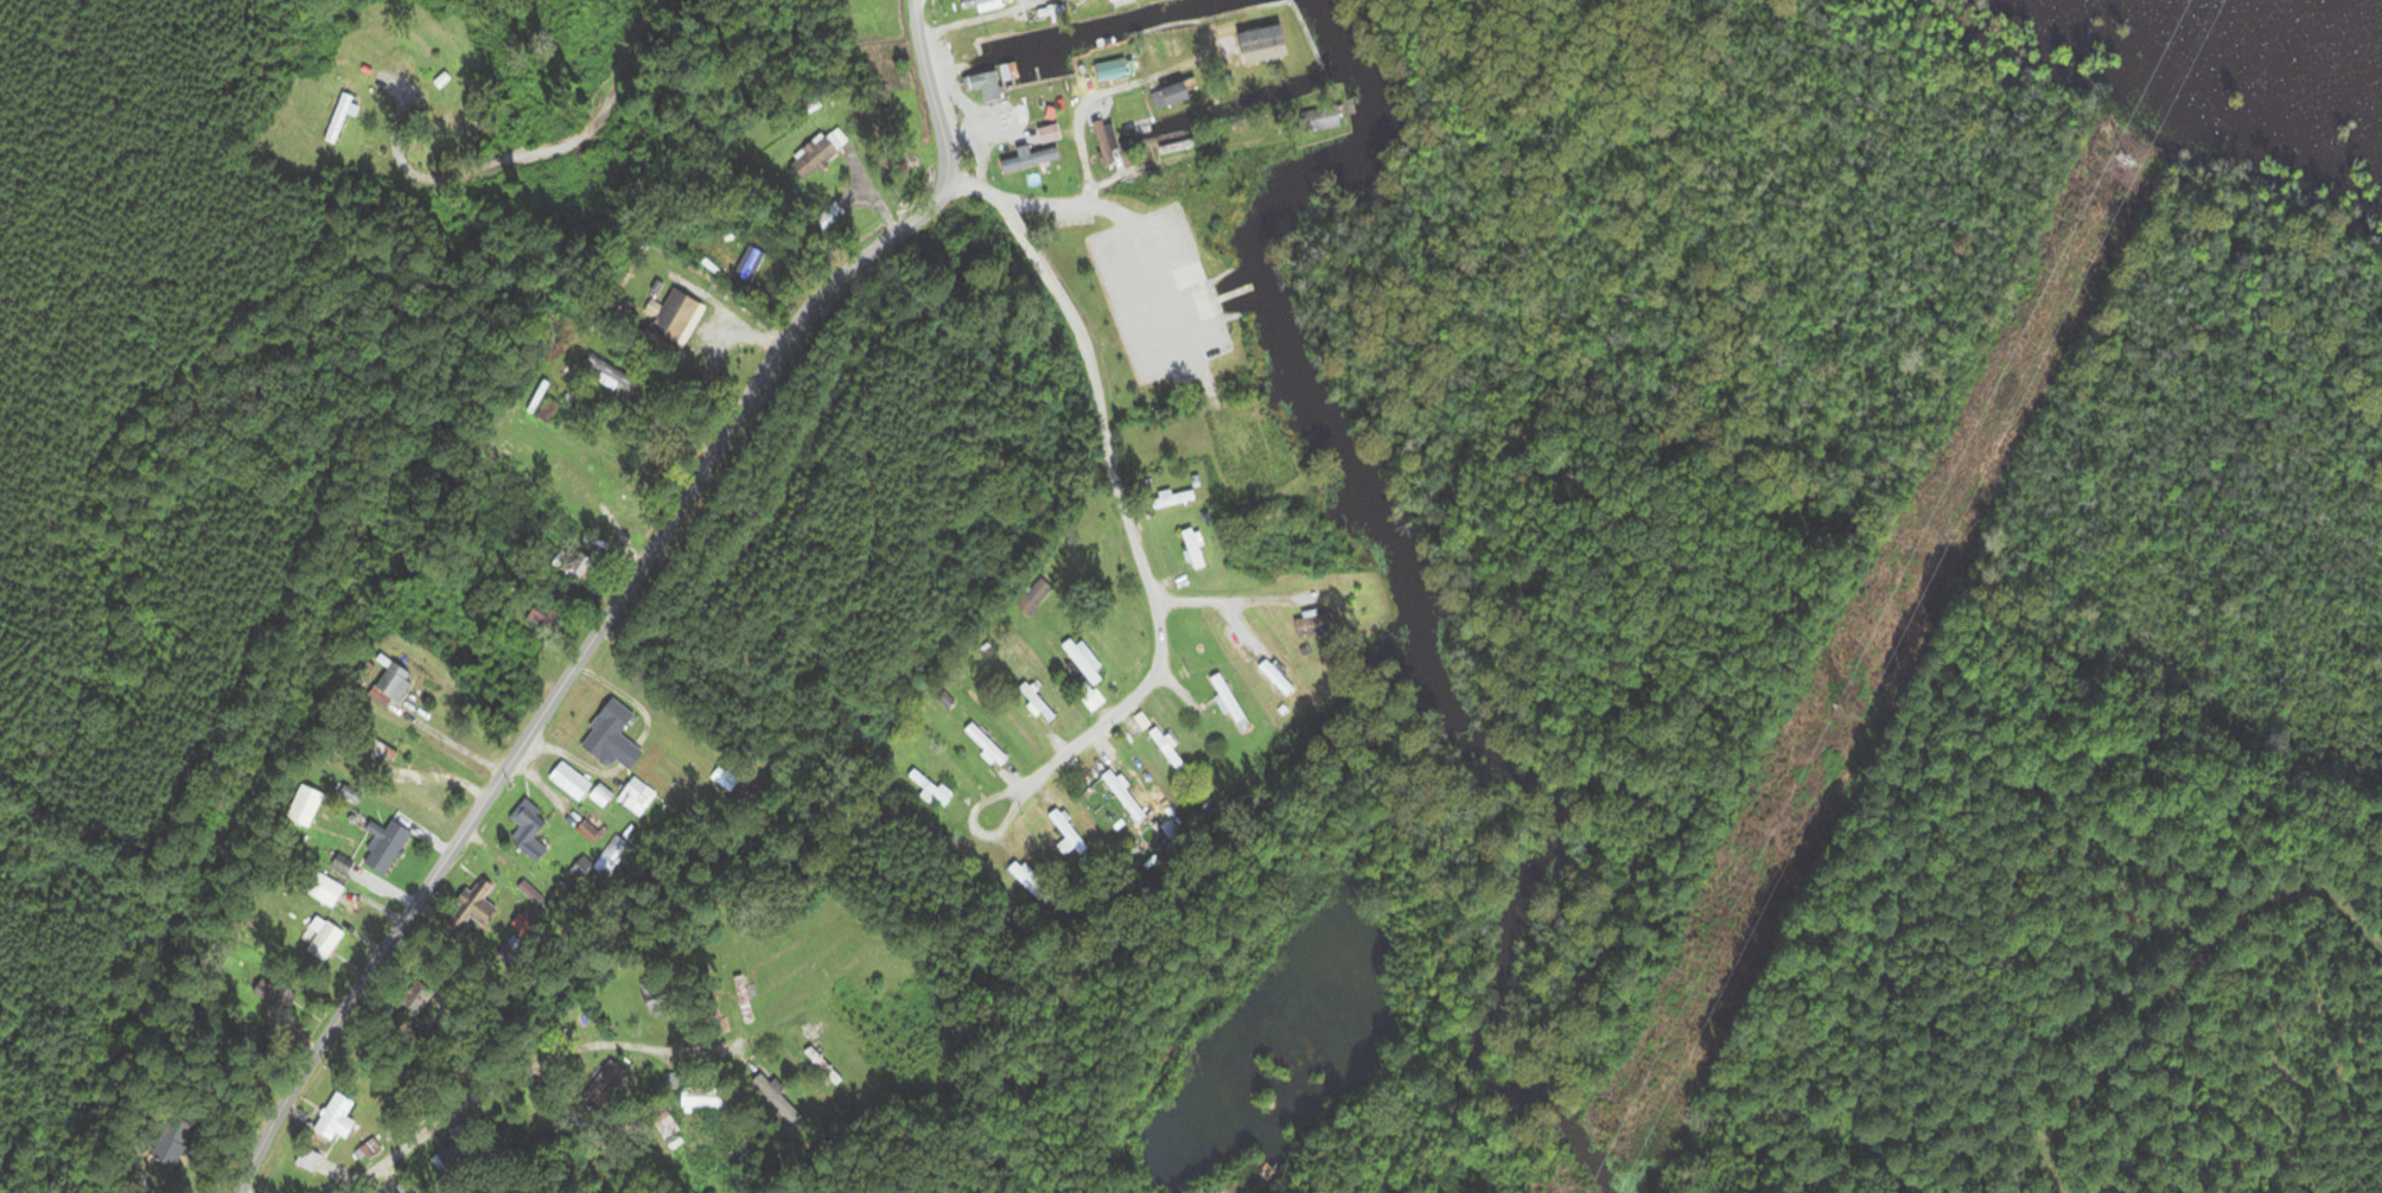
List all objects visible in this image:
building: (1126, 2)
building: (986, 4)
road: (983, 17)
building: (1265, 45)
building: (405, 50)
road: (1095, 96)
building: (1174, 96)
building: (339, 119)
building: (1323, 120)
building: (1178, 141)
building: (1109, 142)
building: (821, 154)
building: (1032, 159)
power tower: (2114, 164)
building: (834, 215)
road: (1153, 247)
road: (1043, 270)
building: (679, 315)
building: (547, 407)
building: (573, 472)
building: (1174, 498)
building: (1195, 548)
road: (624, 591)
road: (1151, 592)
building: (1034, 595)
road: (1225, 599)
building: (541, 619)
building: (1319, 626)
building: (1087, 672)
building: (1279, 677)
building: (397, 682)
building: (1038, 702)
building: (1230, 703)
power tower: (1866, 714)
building: (614, 736)
building: (986, 745)
building: (1168, 748)
building: (728, 777)
building: (572, 781)
building: (929, 787)
building: (1125, 796)
building: (638, 797)
building: (531, 831)
building: (1068, 836)
building: (390, 846)
building: (612, 855)
building: (1030, 883)
building: (327, 891)
building: (476, 905)
building: (327, 942)
building: (511, 951)
building: (657, 997)
building: (745, 1002)
building: (823, 1066)
road: (514, 1073)
building: (606, 1085)
building: (781, 1097)
building: (705, 1098)
building: (337, 1119)
building: (669, 1133)
building: (369, 1150)
building: (172, 1151)
building: (452, 1159)

